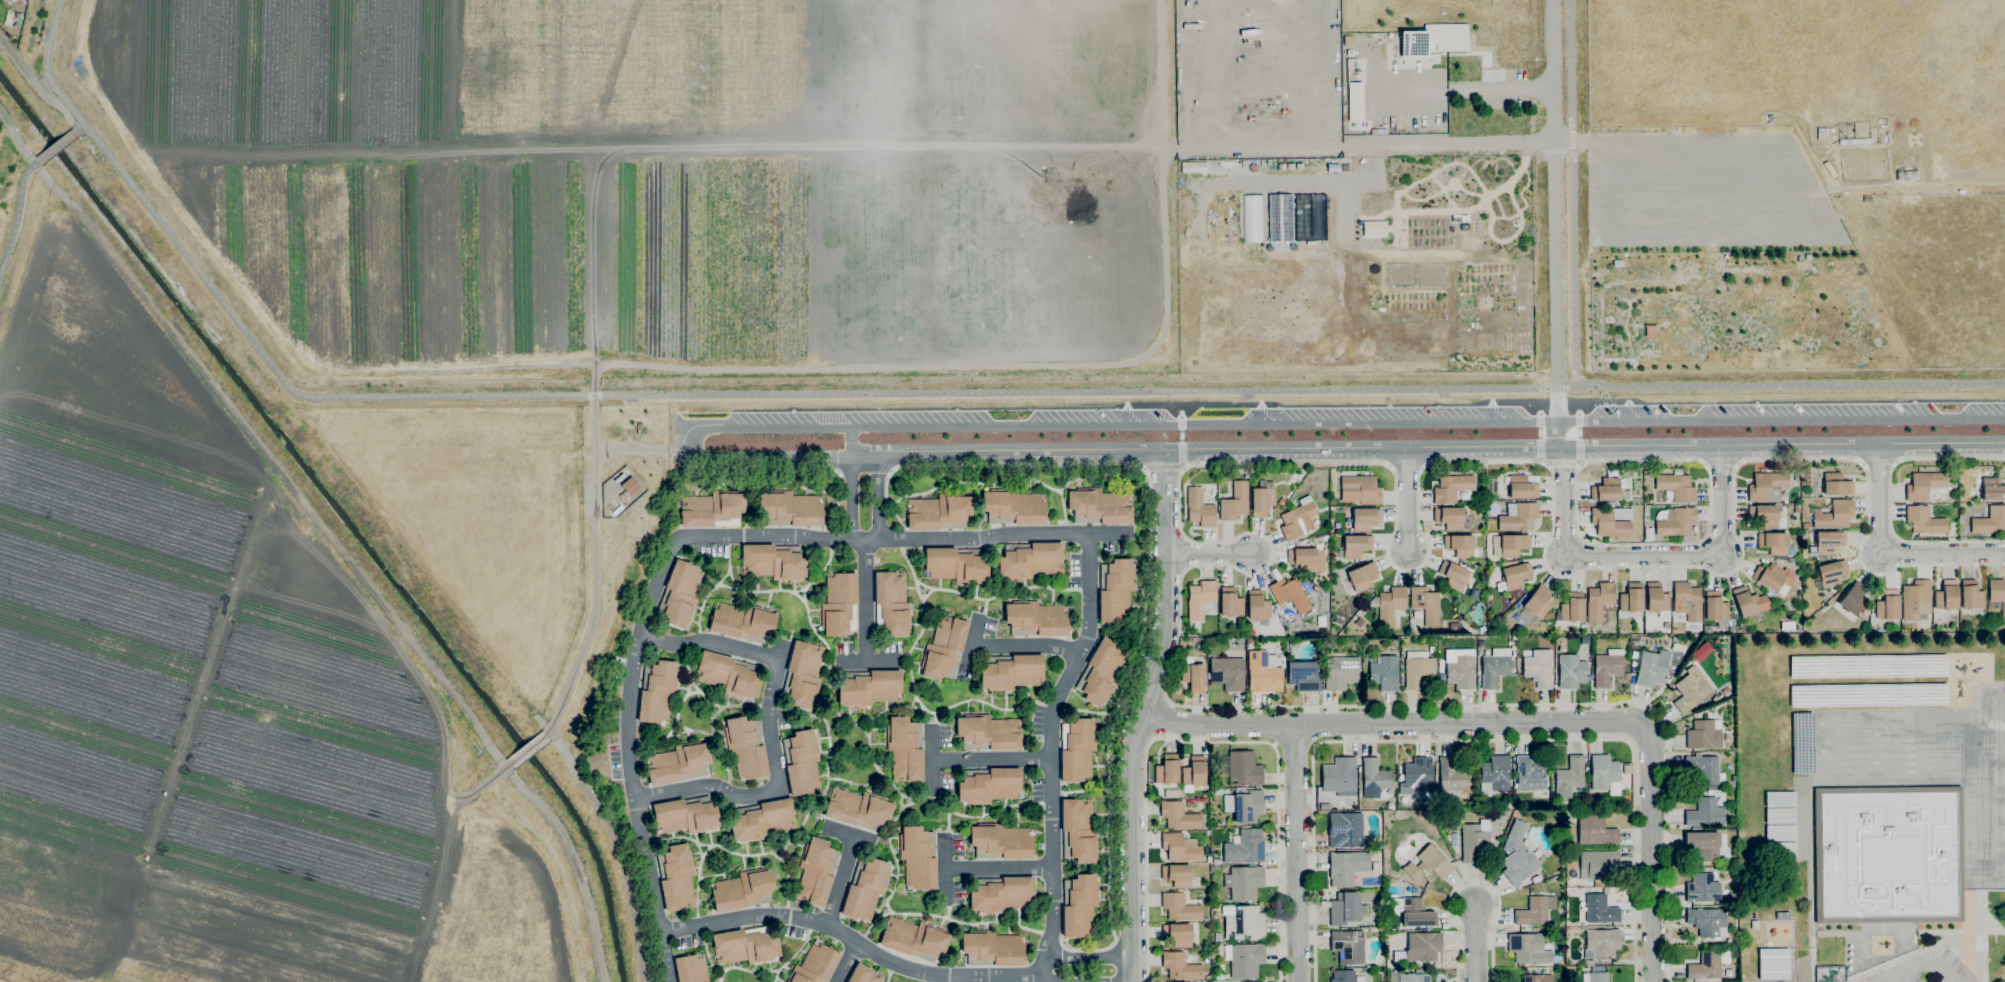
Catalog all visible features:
building: (2, 0)
building: (1432, 39)
road: (1499, 87)
building: (1353, 101)
road: (81, 128)
road: (1394, 143)
road: (57, 147)
road: (1321, 178)
road: (1572, 193)
road: (1554, 210)
road: (1434, 212)
road: (18, 215)
building: (1279, 217)
park: (787, 352)
road: (909, 392)
road: (1166, 398)
road: (1368, 405)
road: (593, 406)
road: (1539, 408)
road: (1578, 408)
road: (1180, 411)
road: (1261, 423)
road: (1555, 435)
road: (849, 442)
road: (1180, 442)
road: (1427, 448)
road: (1274, 463)
road: (1560, 463)
road: (1579, 463)
road: (1546, 464)
road: (1722, 464)
road: (1163, 467)
road: (1144, 468)
road: (1182, 468)
road: (869, 470)
road: (891, 471)
building: (1836, 484)
building: (1923, 485)
building: (1523, 486)
building: (1676, 486)
building: (1767, 486)
building: (1453, 487)
building: (629, 488)
building: (1607, 488)
building: (1992, 489)
building: (1359, 490)
building: (1935, 496)
building: (1262, 498)
road: (1891, 499)
road: (877, 500)
road: (1406, 501)
road: (850, 502)
building: (1235, 502)
building: (1100, 506)
building: (1013, 507)
building: (1199, 508)
building: (1797, 508)
building: (789, 509)
building: (713, 510)
building: (939, 512)
building: (1835, 515)
building: (1766, 516)
building: (1450, 518)
building: (1519, 518)
building: (1364, 519)
building: (1297, 520)
building: (1924, 520)
building: (1611, 521)
building: (1676, 521)
building: (1990, 521)
road: (1710, 525)
building: (1805, 525)
road: (883, 540)
building: (1773, 542)
building: (1828, 542)
building: (1460, 545)
building: (1509, 545)
building: (1355, 546)
road: (594, 549)
road: (1210, 554)
road: (1888, 555)
road: (1644, 558)
building: (1030, 559)
building: (1307, 559)
building: (773, 561)
building: (956, 565)
building: (1831, 573)
building: (1453, 575)
building: (1515, 575)
building: (1361, 576)
building: (1773, 578)
road: (1167, 584)
building: (1308, 587)
building: (1116, 589)
building: (1473, 592)
building: (1997, 593)
building: (680, 594)
building: (1289, 594)
building: (1971, 595)
building: (1946, 596)
road: (1144, 598)
building: (1200, 599)
building: (1853, 599)
building: (1916, 599)
building: (1630, 600)
building: (1657, 600)
road: (865, 601)
building: (1538, 601)
building: (1687, 601)
building: (1230, 602)
building: (1600, 602)
building: (1749, 602)
building: (840, 604)
building: (892, 604)
building: (1426, 604)
building: (1257, 605)
building: (1388, 605)
building: (1887, 605)
building: (1994, 606)
building: (1715, 607)
building: (1572, 608)
building: (1866, 611)
building: (1034, 619)
building: (743, 622)
building: (1707, 629)
building: (1388, 632)
building: (1250, 641)
building: (1319, 642)
building: (1635, 642)
building: (1391, 643)
building: (1292, 645)
road: (1028, 647)
building: (944, 648)
road: (973, 648)
building: (1321, 652)
building: (1634, 655)
road: (867, 662)
building: (1495, 667)
building: (1607, 667)
building: (1654, 667)
building: (1416, 668)
building: (1538, 668)
building: (1571, 671)
building: (1011, 672)
building: (1101, 672)
building: (1264, 672)
building: (1341, 672)
building: (1383, 672)
building: (1461, 672)
building: (1227, 673)
building: (729, 674)
building: (803, 675)
building: (1194, 676)
building: (1303, 676)
building: (869, 687)
building: (1690, 690)
building: (657, 691)
building: (1717, 697)
road: (1520, 721)
road: (769, 727)
building: (988, 733)
building: (1704, 734)
road: (1474, 740)
road: (1209, 742)
building: (746, 747)
building: (905, 748)
road: (1052, 748)
road: (526, 749)
building: (1077, 749)
building: (1732, 753)
road: (630, 758)
road: (992, 759)
road: (933, 760)
building: (802, 761)
building: (678, 763)
building: (1244, 769)
building: (1704, 769)
building: (1167, 770)
building: (1419, 773)
building: (1530, 773)
building: (1604, 773)
building: (1193, 774)
building: (1493, 774)
building: (1452, 776)
building: (1340, 777)
building: (1569, 777)
building: (1374, 778)
building: (1394, 784)
road: (482, 785)
building: (988, 785)
building: (1713, 788)
building: (1226, 791)
building: (1780, 799)
building: (1390, 805)
building: (1244, 806)
building: (859, 809)
building: (1598, 811)
building: (1705, 813)
building: (1569, 814)
building: (686, 815)
building: (1178, 816)
building: (1780, 816)
building: (762, 820)
building: (1345, 830)
building: (1078, 831)
building: (1595, 831)
building: (1780, 832)
road: (848, 835)
building: (1001, 842)
building: (1476, 842)
building: (1707, 845)
building: (1180, 847)
building: (1245, 847)
road: (1135, 848)
building: (1446, 849)
building: (1781, 850)
road: (1296, 853)
building: (1517, 855)
building: (1888, 855)
building: (918, 857)
building: (1542, 857)
building: (1216, 861)
building: (1598, 863)
building: (1427, 865)
building: (1347, 866)
road: (999, 868)
road: (945, 869)
building: (816, 871)
building: (1177, 875)
building: (677, 877)
road: (1474, 880)
building: (1536, 880)
road: (841, 881)
building: (1244, 883)
building: (1598, 884)
building: (1702, 888)
building: (866, 889)
building: (743, 890)
building: (1415, 891)
building: (1002, 894)
building: (1079, 905)
building: (1180, 908)
building: (1345, 908)
building: (1600, 909)
building: (1534, 911)
building: (1413, 912)
building: (1243, 922)
building: (1705, 922)
building: (1178, 934)
building: (1218, 937)
building: (914, 939)
road: (854, 941)
road: (1474, 943)
building: (1601, 943)
road: (1114, 944)
building: (746, 946)
building: (1348, 946)
building: (1420, 947)
building: (1529, 948)
building: (992, 949)
road: (1089, 958)
building: (1245, 959)
road: (846, 962)
building: (1588, 962)
road: (1115, 963)
building: (1774, 963)
building: (1708, 964)
building: (815, 965)
building: (1181, 966)
road: (1924, 967)
building: (691, 969)
building: (1597, 974)
building: (1829, 974)
building: (864, 975)
road: (1127, 975)
building: (1343, 976)
building: (1415, 976)
road: (1047, 977)
road: (1052, 977)
building: (1219, 977)
building: (1537, 978)
road: (940, 979)
building: (712, 981)

